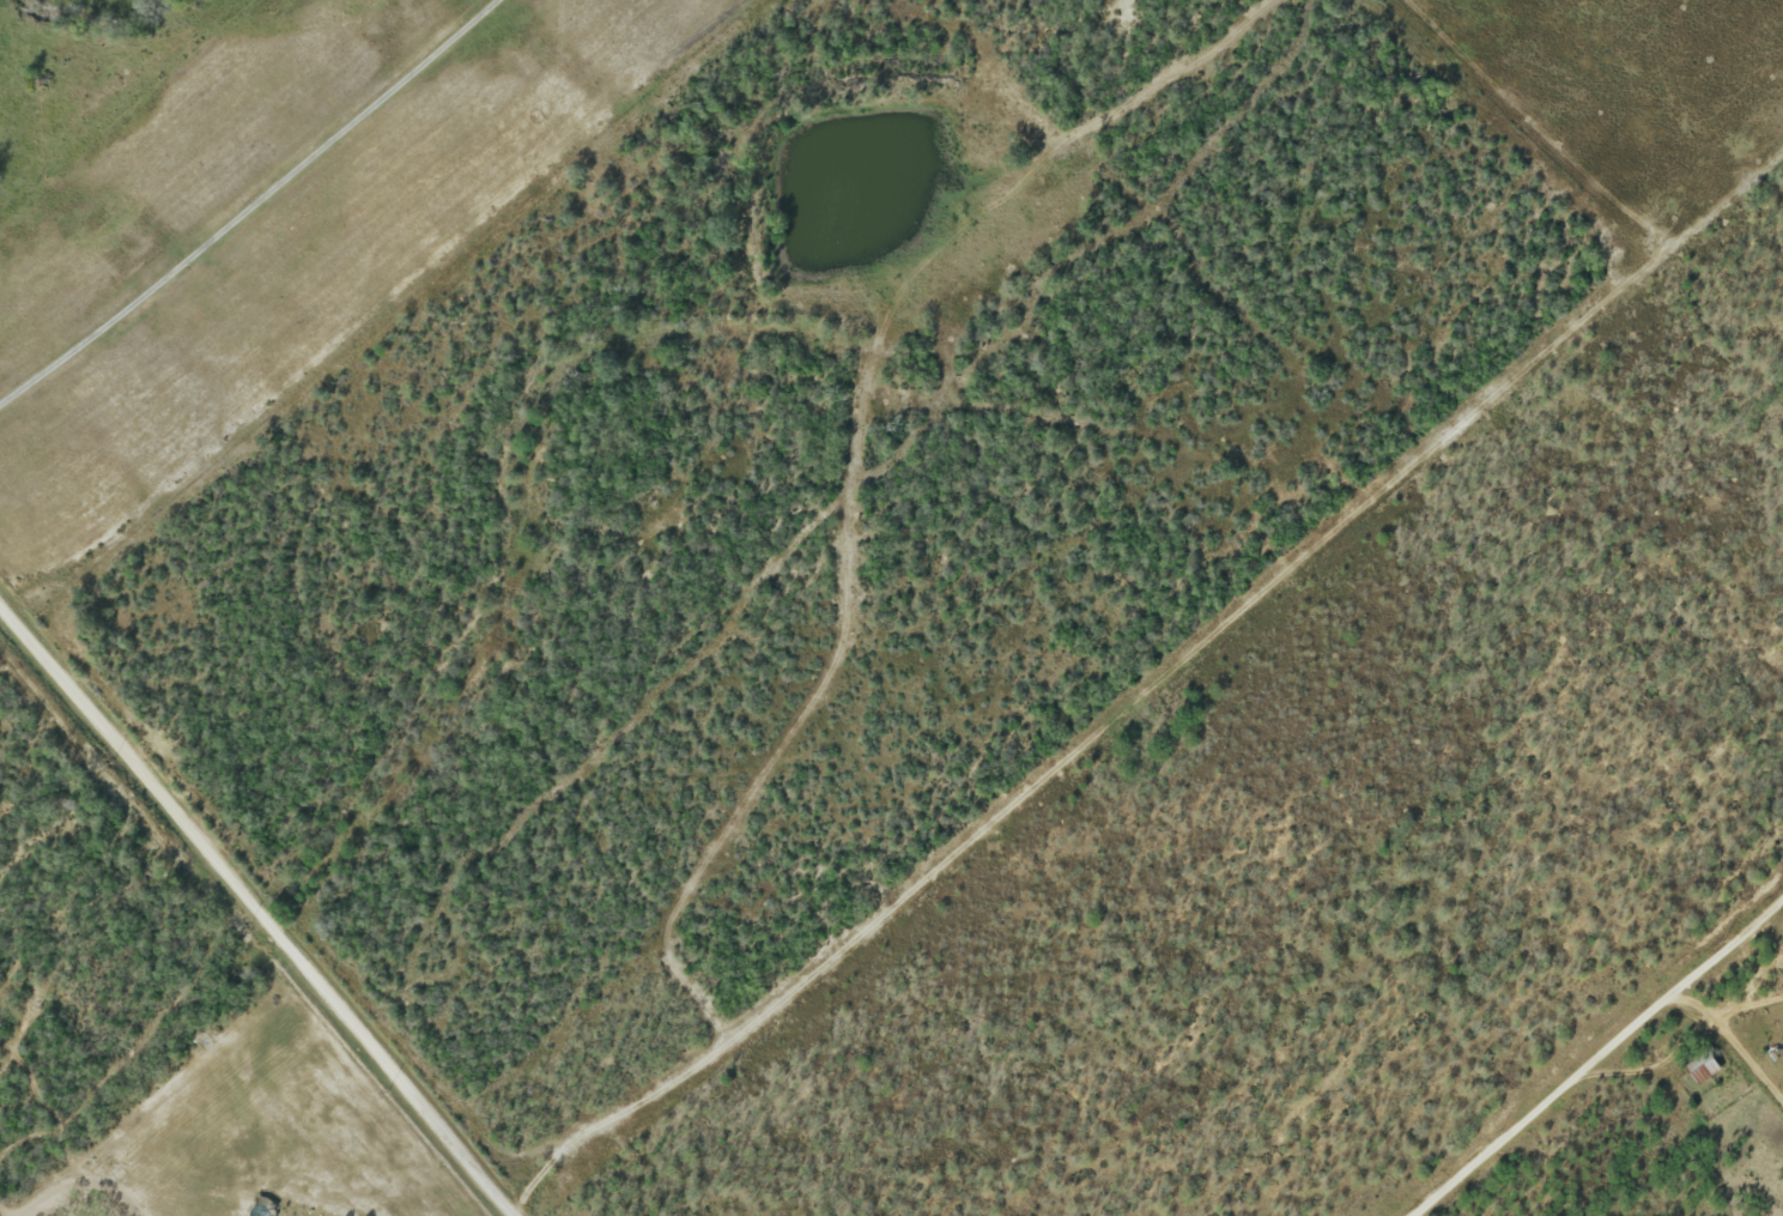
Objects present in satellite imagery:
road: (251, 206)
road: (257, 909)
road: (1601, 1060)

